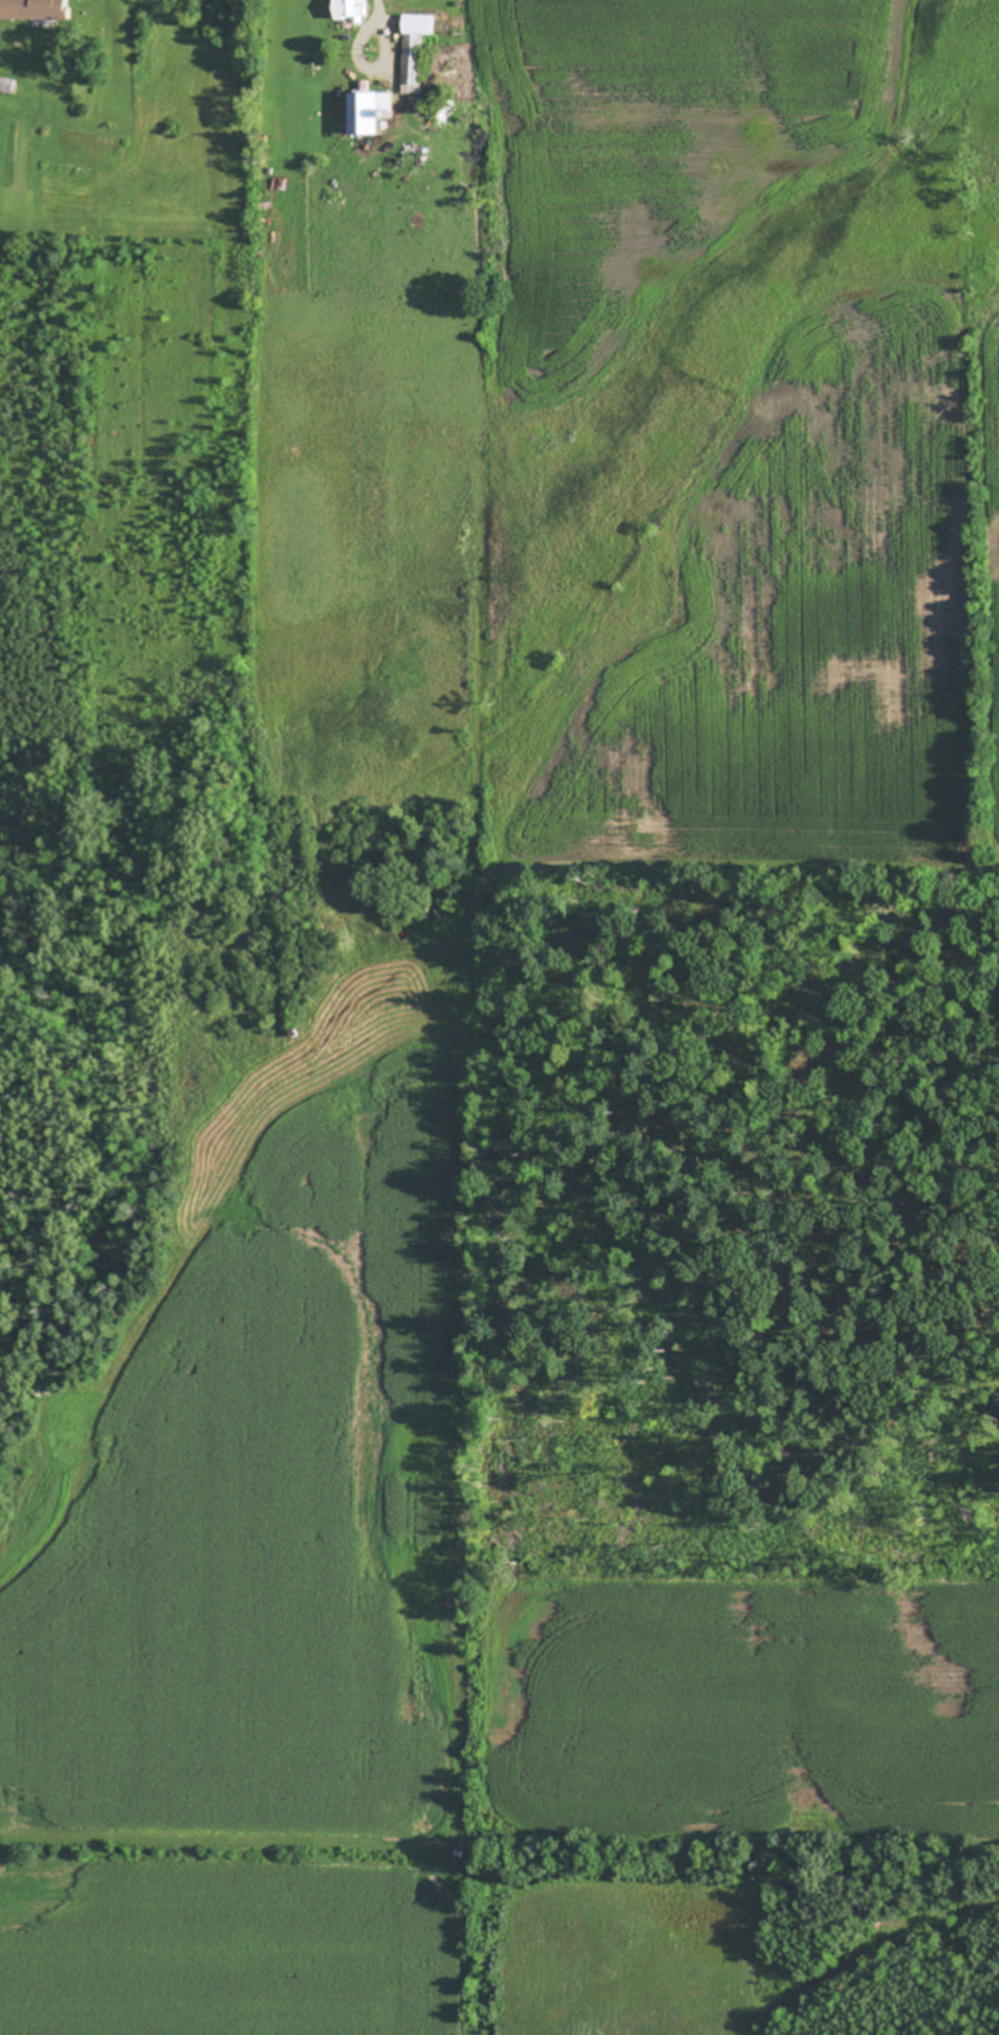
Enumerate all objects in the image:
building: (36, 8)
building: (352, 8)
building: (415, 50)
building: (7, 83)
building: (422, 105)
building: (370, 109)
building: (440, 113)
building: (426, 902)
building: (441, 911)

